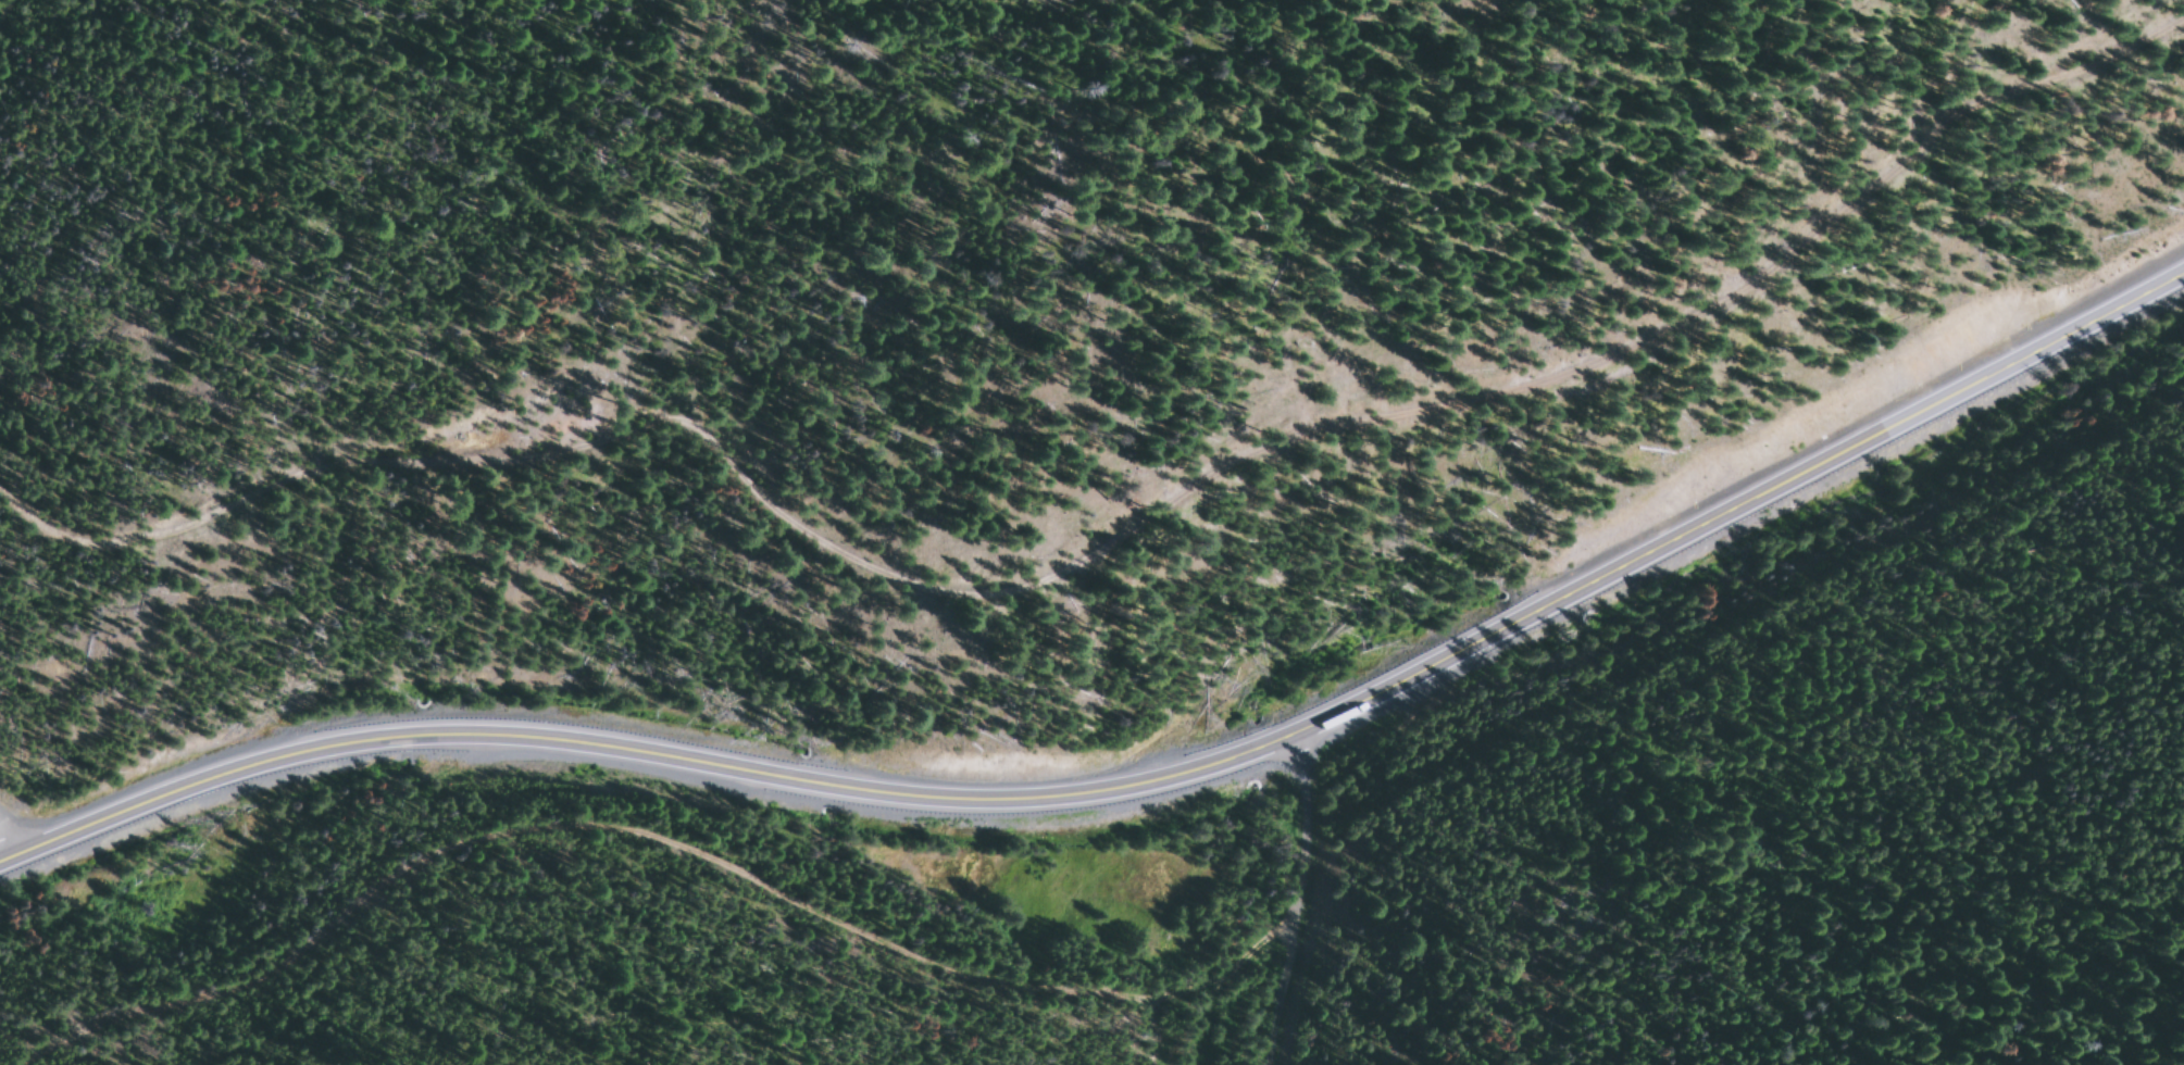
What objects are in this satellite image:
road: (1112, 529)
road: (1137, 780)
road: (12, 824)

